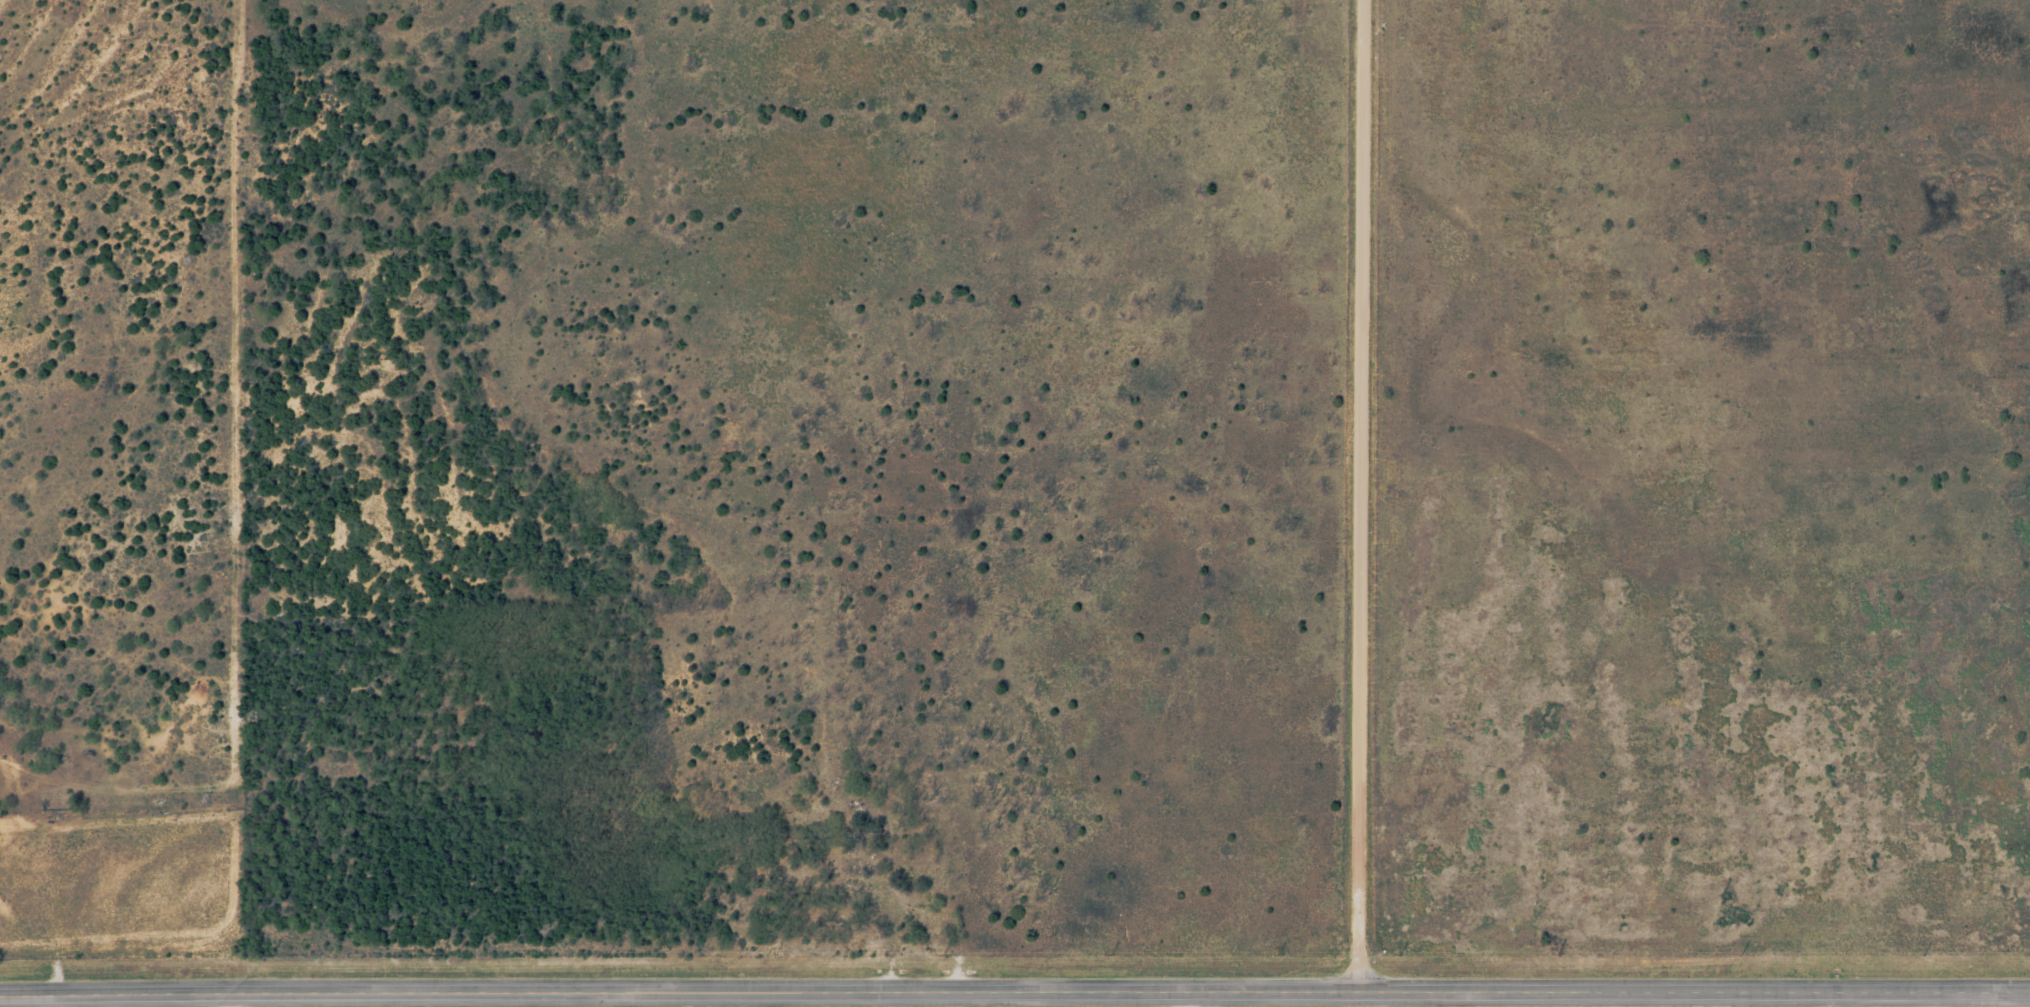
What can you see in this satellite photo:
road: (1361, 495)
road: (1014, 993)

